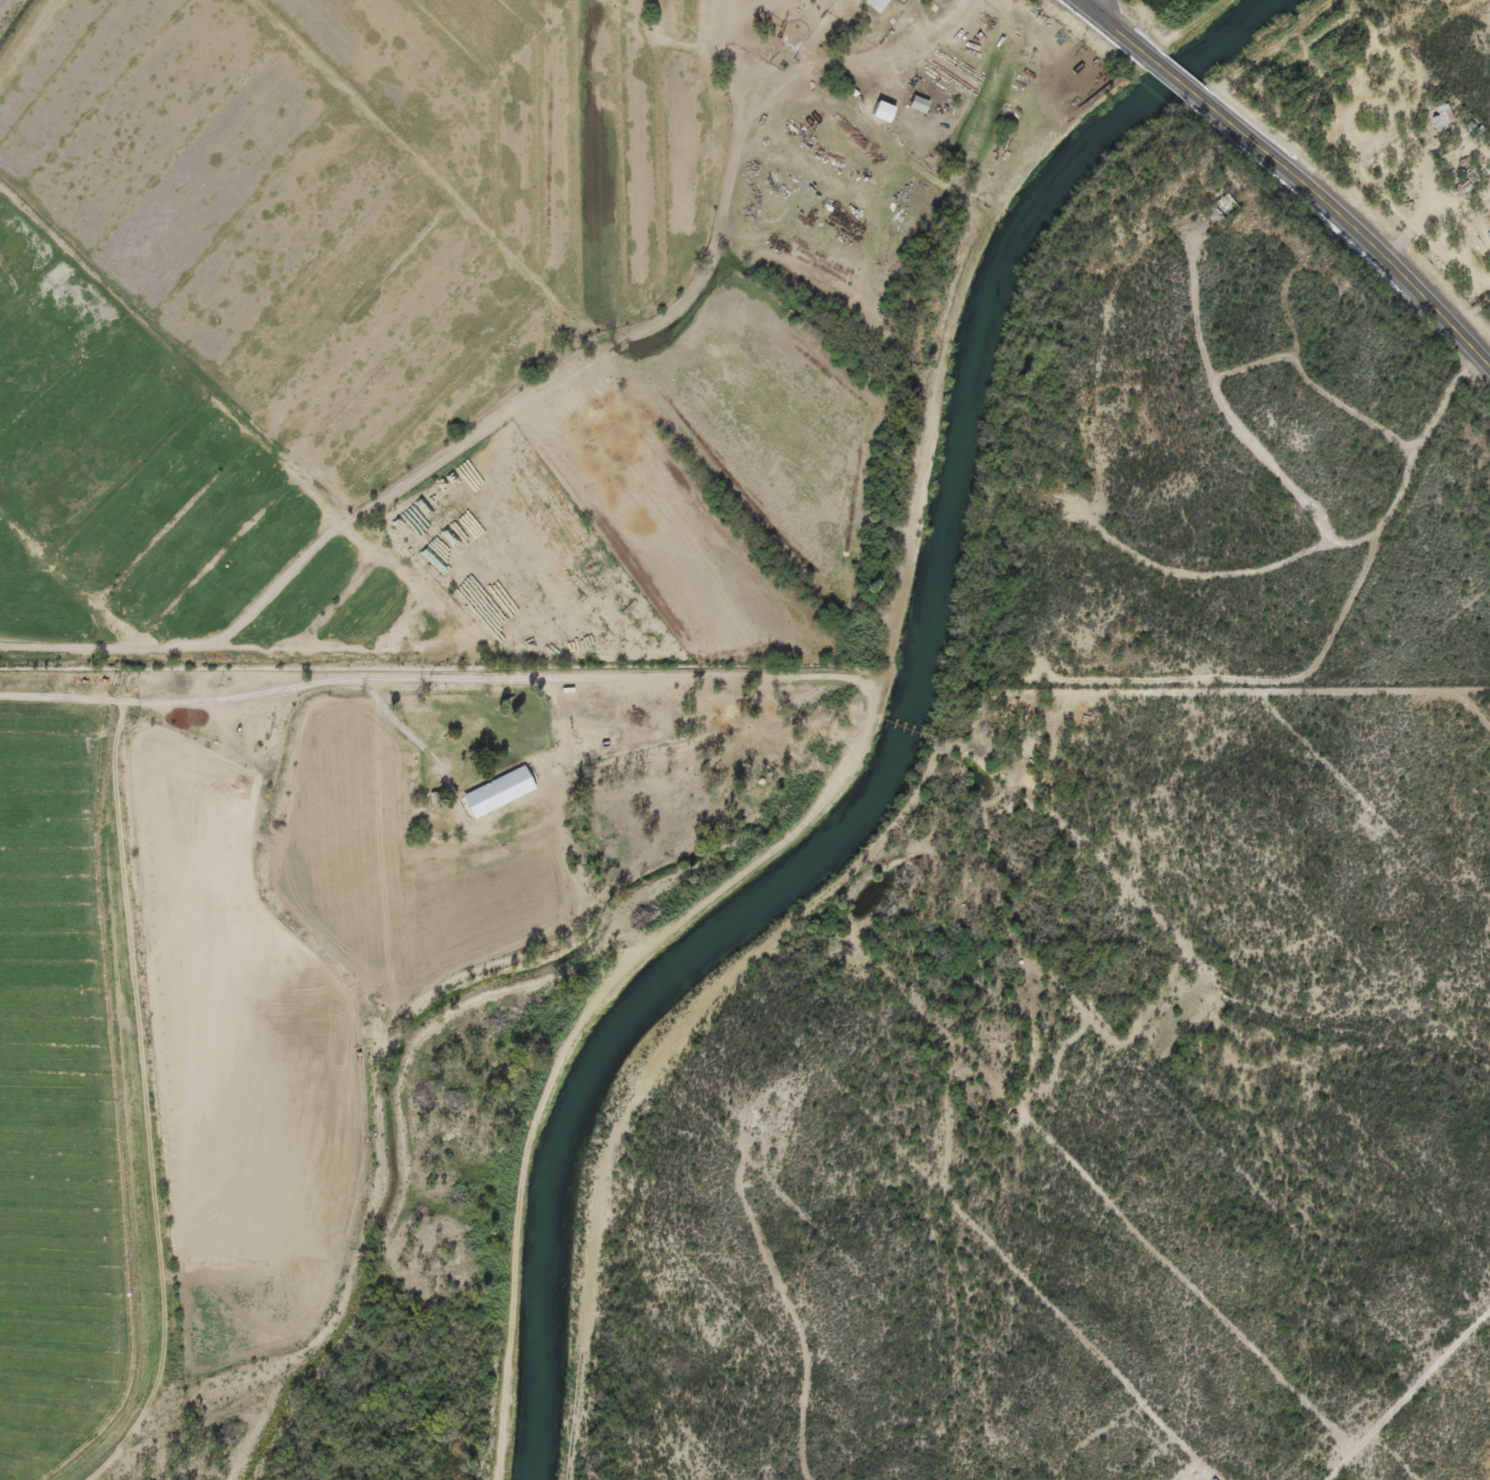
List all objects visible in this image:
building: (898, 0)
road: (1089, 3)
building: (873, 5)
road: (1109, 24)
road: (1175, 78)
building: (915, 105)
building: (878, 112)
building: (1439, 116)
road: (1355, 230)
road: (448, 681)
building: (496, 794)
road: (1191, 977)
road: (795, 1325)

